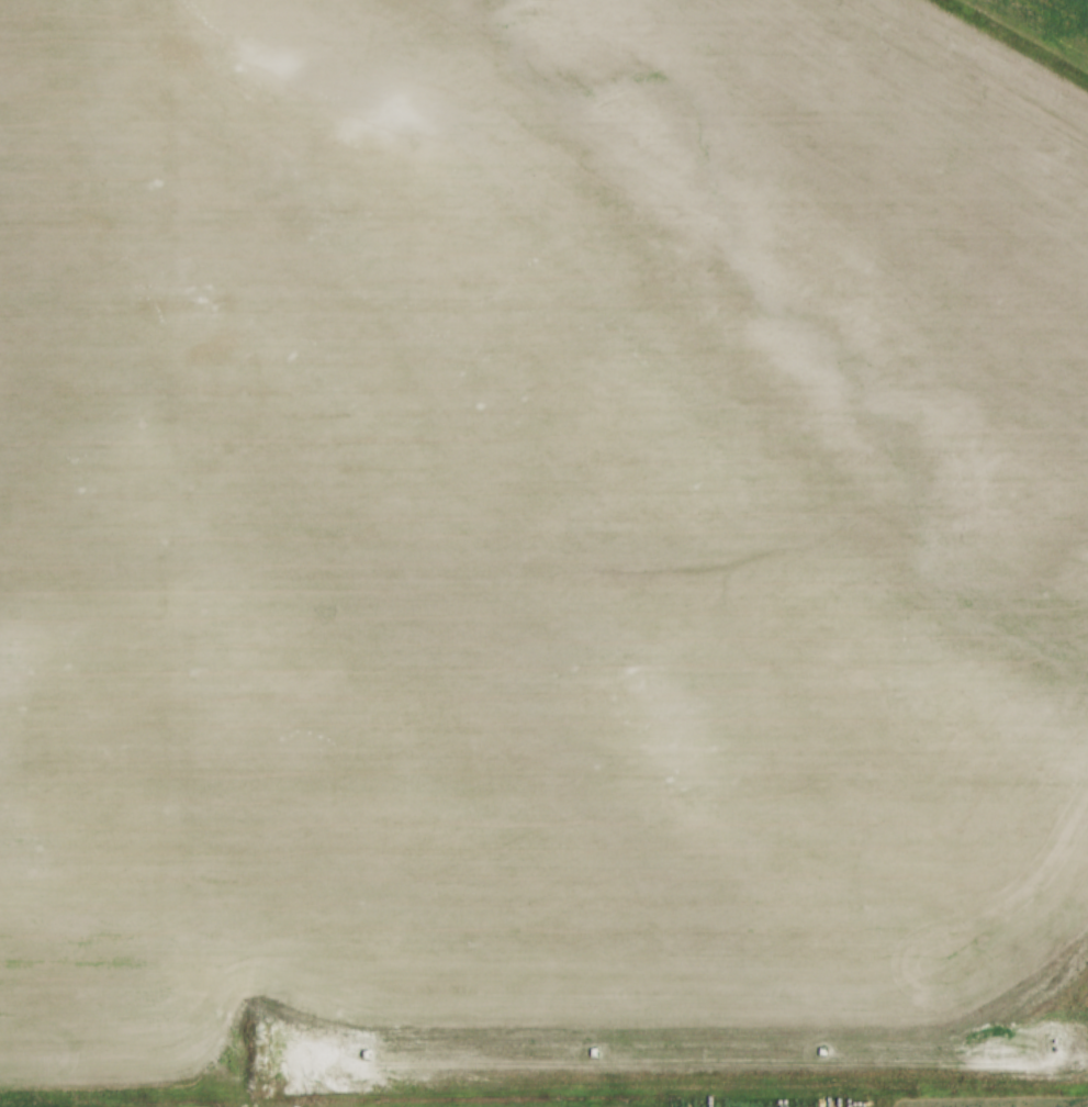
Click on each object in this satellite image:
airport: (1052, 20)

